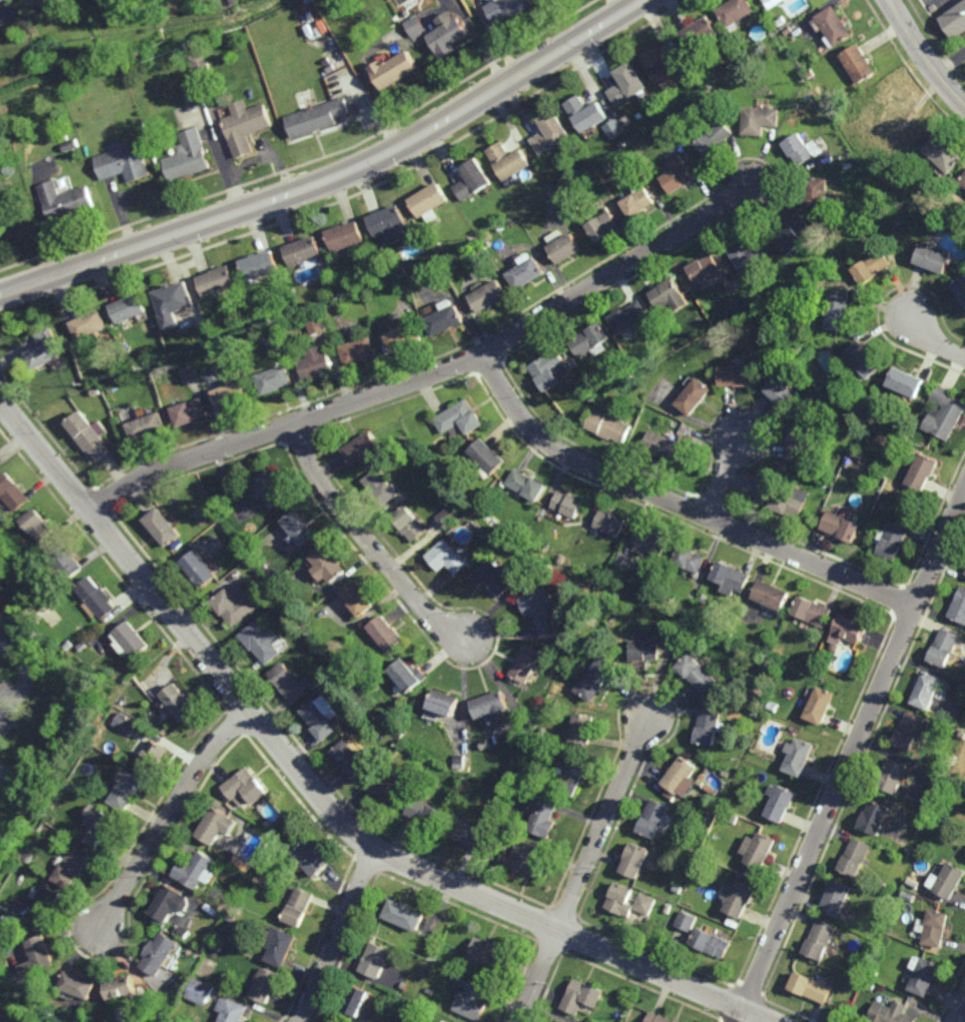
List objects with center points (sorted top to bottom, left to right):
building: (2, 0)
building: (230, 2)
building: (767, 2)
building: (509, 7)
building: (733, 11)
building: (406, 12)
building: (781, 17)
building: (954, 17)
building: (834, 23)
building: (416, 26)
building: (787, 28)
building: (697, 29)
building: (448, 35)
building: (189, 44)
building: (776, 44)
road: (924, 54)
building: (859, 60)
building: (748, 61)
building: (662, 62)
road: (951, 62)
building: (117, 63)
building: (201, 65)
building: (393, 67)
building: (752, 71)
building: (625, 81)
building: (188, 85)
building: (283, 90)
building: (806, 95)
building: (194, 98)
building: (891, 106)
building: (583, 110)
building: (316, 115)
building: (758, 117)
building: (672, 122)
building: (245, 124)
building: (612, 125)
building: (548, 129)
building: (713, 136)
building: (64, 138)
building: (70, 145)
building: (798, 147)
building: (943, 151)
building: (189, 155)
building: (508, 158)
building: (124, 161)
building: (607, 165)
building: (677, 173)
road: (335, 177)
building: (472, 177)
building: (963, 179)
building: (816, 190)
building: (551, 197)
building: (637, 199)
building: (66, 200)
building: (428, 200)
building: (576, 209)
building: (387, 221)
building: (601, 223)
building: (795, 232)
building: (343, 234)
building: (555, 236)
building: (487, 240)
building: (437, 246)
building: (480, 246)
building: (563, 247)
building: (322, 248)
building: (301, 251)
building: (748, 254)
building: (931, 258)
building: (256, 264)
building: (871, 265)
building: (703, 267)
building: (400, 270)
building: (524, 271)
building: (216, 280)
building: (960, 287)
building: (487, 294)
building: (668, 294)
building: (173, 296)
building: (129, 307)
building: (839, 308)
building: (727, 312)
building: (627, 315)
building: (443, 317)
building: (89, 324)
building: (314, 324)
building: (402, 336)
building: (587, 338)
road: (934, 339)
building: (241, 341)
building: (274, 343)
building: (45, 348)
building: (356, 350)
building: (206, 355)
building: (863, 359)
building: (313, 363)
building: (546, 369)
building: (193, 373)
road: (433, 373)
building: (736, 375)
building: (271, 380)
building: (904, 382)
building: (586, 388)
building: (95, 390)
building: (230, 393)
building: (782, 393)
building: (693, 396)
building: (837, 404)
building: (191, 412)
building: (943, 413)
building: (459, 418)
building: (606, 425)
building: (147, 426)
building: (903, 431)
building: (88, 435)
building: (799, 442)
building: (410, 445)
building: (665, 446)
building: (360, 448)
building: (429, 453)
building: (486, 456)
building: (921, 472)
road: (724, 476)
building: (525, 485)
building: (378, 487)
building: (268, 489)
building: (12, 492)
building: (782, 500)
building: (566, 504)
building: (882, 504)
road: (679, 505)
building: (543, 510)
building: (445, 517)
building: (203, 520)
building: (609, 522)
building: (407, 524)
building: (36, 526)
building: (842, 527)
building: (162, 528)
building: (297, 529)
building: (479, 533)
building: (445, 534)
building: (891, 540)
road: (370, 542)
building: (650, 543)
building: (445, 558)
building: (689, 559)
building: (624, 560)
building: (65, 562)
building: (535, 565)
building: (324, 566)
building: (199, 570)
building: (730, 576)
building: (602, 577)
building: (494, 578)
building: (697, 587)
building: (771, 594)
building: (703, 597)
building: (97, 599)
building: (355, 599)
building: (613, 602)
building: (539, 607)
building: (958, 607)
building: (234, 608)
building: (812, 609)
building: (849, 627)
building: (384, 631)
building: (667, 636)
building: (132, 639)
building: (260, 641)
building: (68, 643)
building: (82, 644)
building: (836, 646)
building: (945, 646)
building: (644, 649)
building: (768, 649)
building: (526, 661)
building: (696, 671)
building: (407, 672)
building: (596, 675)
road: (24, 677)
building: (287, 680)
building: (927, 689)
building: (179, 700)
building: (443, 701)
building: (490, 703)
building: (821, 703)
building: (773, 705)
building: (49, 708)
building: (754, 713)
building: (320, 715)
building: (371, 717)
building: (393, 721)
building: (126, 722)
building: (707, 725)
building: (582, 726)
building: (909, 729)
building: (963, 734)
building: (57, 742)
road: (855, 748)
building: (152, 754)
building: (798, 755)
building: (349, 757)
building: (459, 760)
building: (726, 773)
building: (892, 774)
building: (573, 776)
building: (681, 777)
building: (245, 785)
building: (127, 788)
building: (384, 790)
road: (319, 795)
building: (780, 801)
building: (926, 809)
building: (425, 812)
road: (170, 814)
building: (544, 817)
building: (653, 817)
building: (733, 817)
building: (875, 817)
road: (605, 820)
building: (99, 824)
building: (217, 824)
building: (466, 831)
building: (283, 835)
building: (758, 849)
building: (691, 851)
building: (855, 856)
building: (310, 858)
building: (527, 859)
building: (634, 859)
building: (71, 866)
building: (197, 869)
building: (694, 880)
building: (947, 880)
building: (913, 882)
building: (738, 898)
building: (837, 898)
building: (620, 899)
building: (44, 902)
building: (171, 902)
building: (645, 904)
building: (298, 907)
building: (668, 908)
building: (403, 914)
building: (231, 917)
building: (686, 920)
building: (178, 927)
building: (935, 927)
building: (185, 931)
road: (337, 935)
building: (820, 939)
building: (710, 942)
building: (280, 945)
building: (217, 947)
building: (487, 952)
building: (159, 953)
building: (35, 959)
building: (375, 960)
building: (857, 974)
building: (872, 974)
road: (538, 975)
building: (922, 975)
building: (869, 983)
building: (78, 984)
building: (265, 984)
building: (404, 985)
building: (121, 987)
building: (810, 987)
building: (430, 990)
building: (201, 991)
building: (582, 996)
building: (356, 1001)
building: (471, 1001)
building: (233, 1011)
road: (960, 1012)
building: (890, 1013)
road: (741, 1015)
building: (657, 1018)
building: (3, 1019)
building: (559, 1020)
building: (12, 1021)

